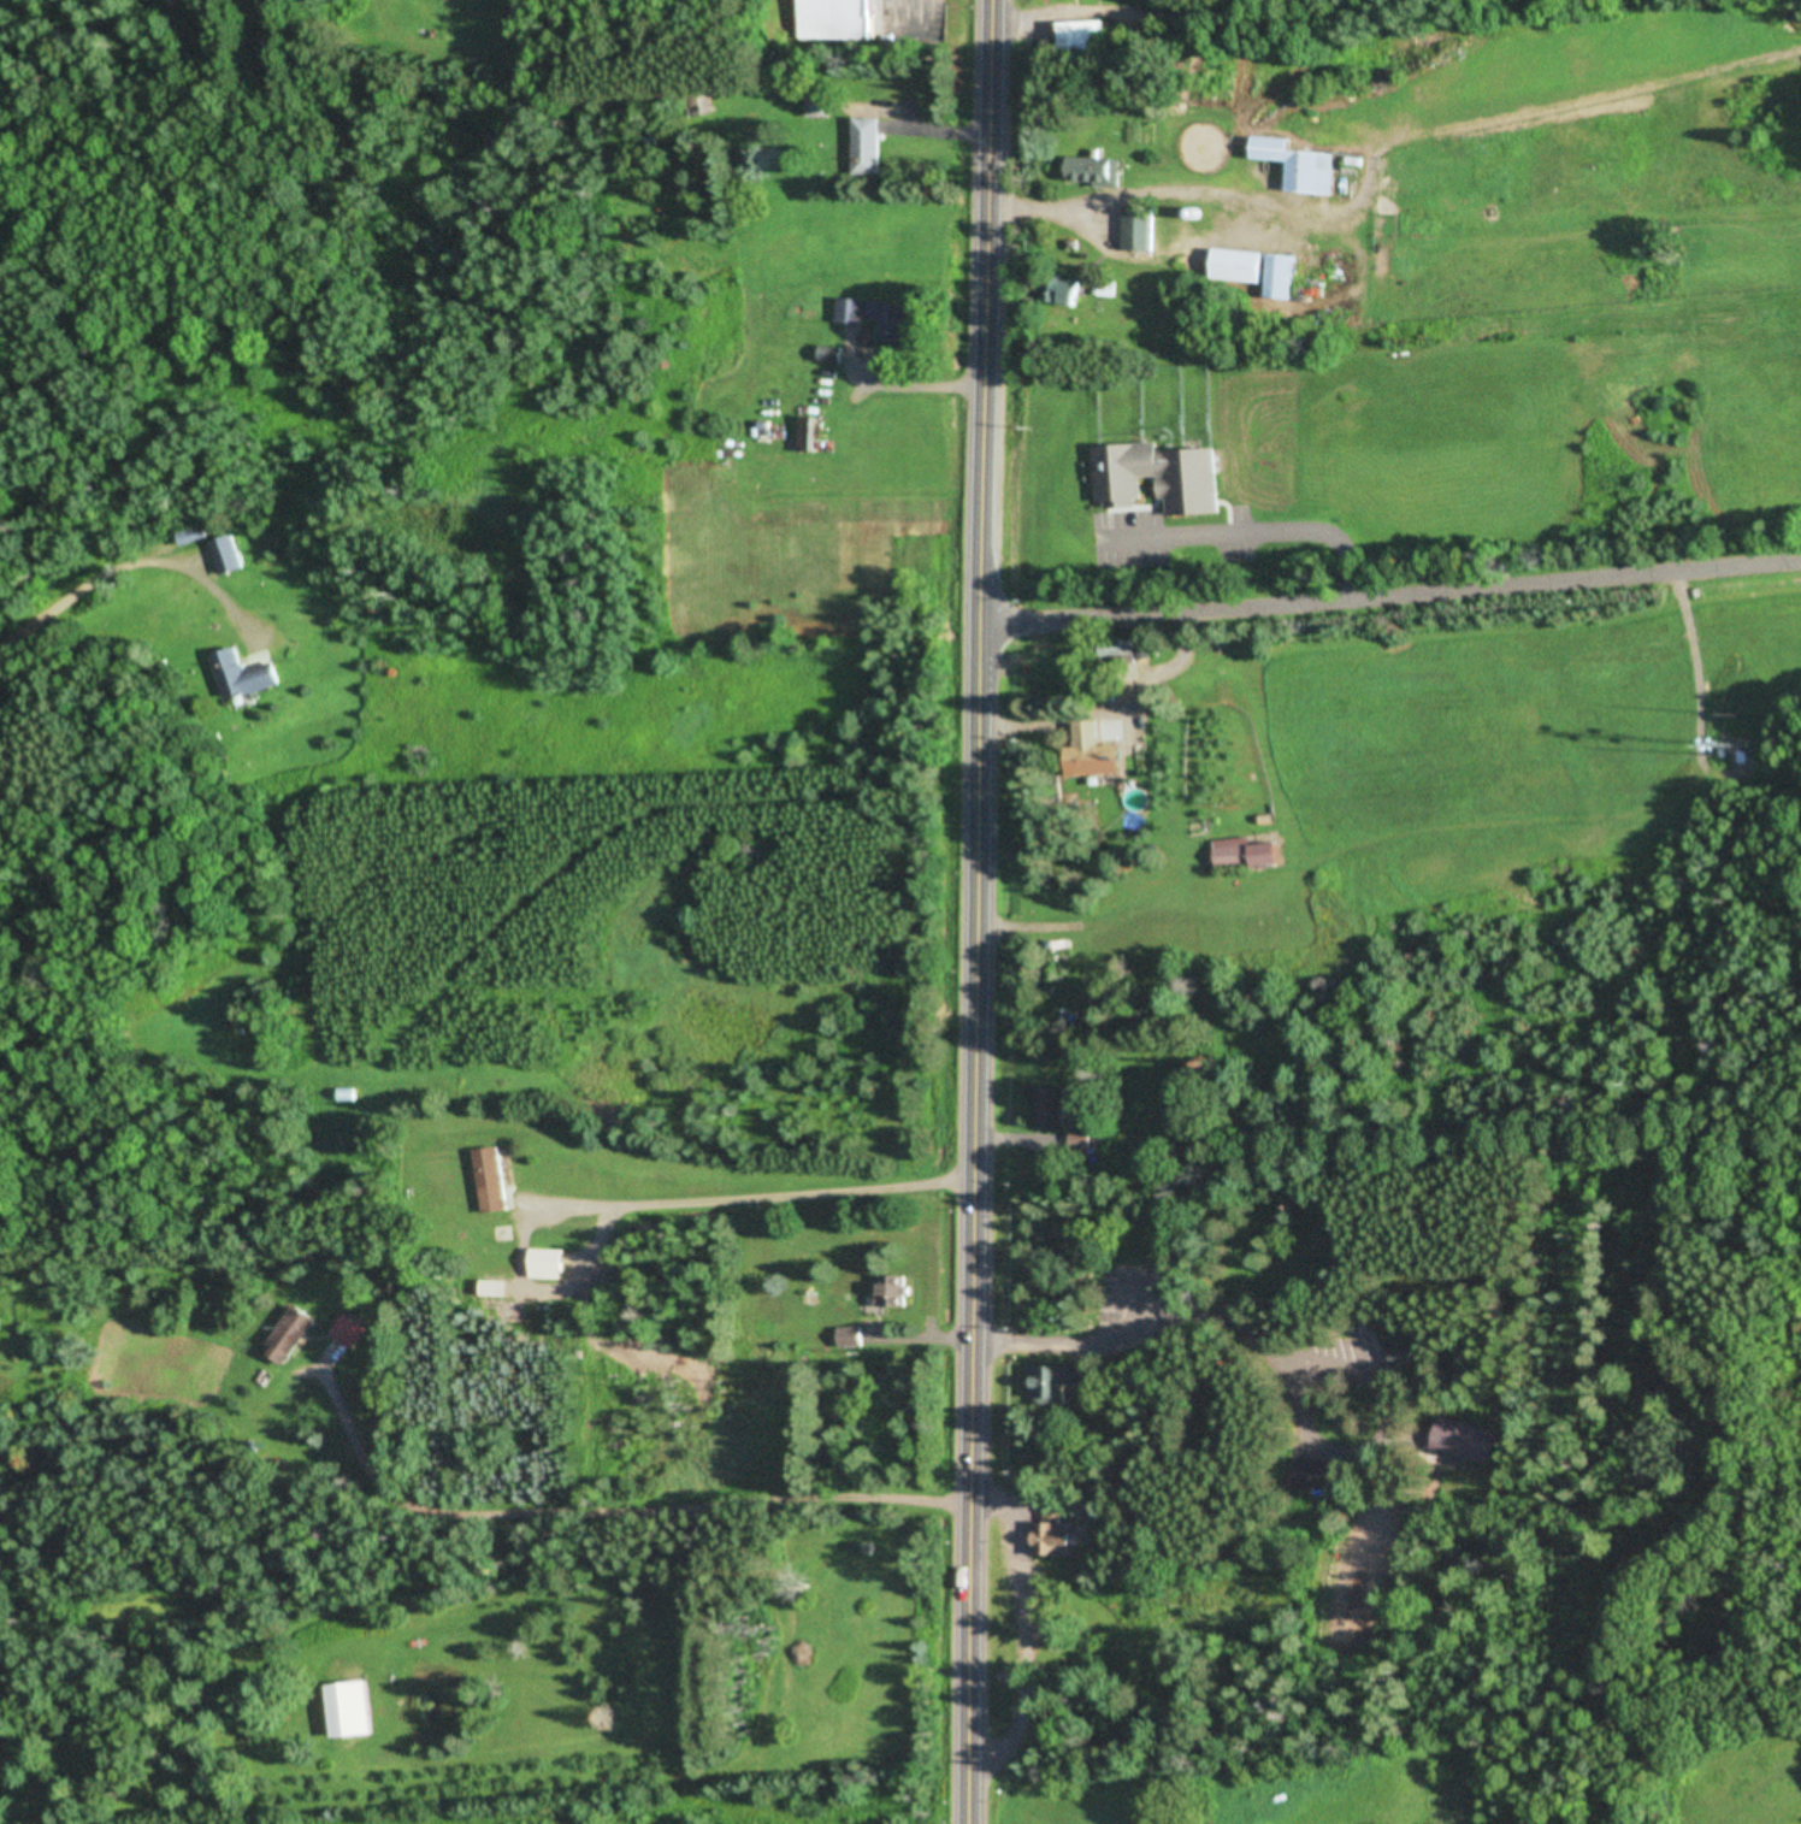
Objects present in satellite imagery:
building: (842, 18)
building: (1080, 34)
building: (703, 102)
building: (869, 147)
building: (1299, 165)
building: (1105, 171)
building: (1112, 217)
building: (1250, 223)
building: (1170, 228)
building: (1258, 271)
building: (1106, 288)
building: (1067, 290)
building: (855, 311)
building: (898, 320)
building: (832, 354)
building: (821, 433)
building: (1163, 480)
road: (1248, 535)
building: (195, 536)
parking lot: (1171, 538)
building: (229, 555)
road: (1392, 589)
building: (246, 677)
building: (1097, 751)
building: (1250, 857)
road: (979, 911)
building: (347, 1094)
building: (1053, 1108)
building: (1080, 1143)
building: (494, 1180)
road: (1564, 1202)
building: (549, 1264)
building: (893, 1291)
building: (349, 1330)
building: (294, 1335)
building: (850, 1338)
building: (1393, 1353)
building: (1051, 1383)
park: (1429, 1423)
building: (1463, 1441)
building: (1318, 1475)
building: (1056, 1533)
road: (1398, 1706)
building: (353, 1710)

